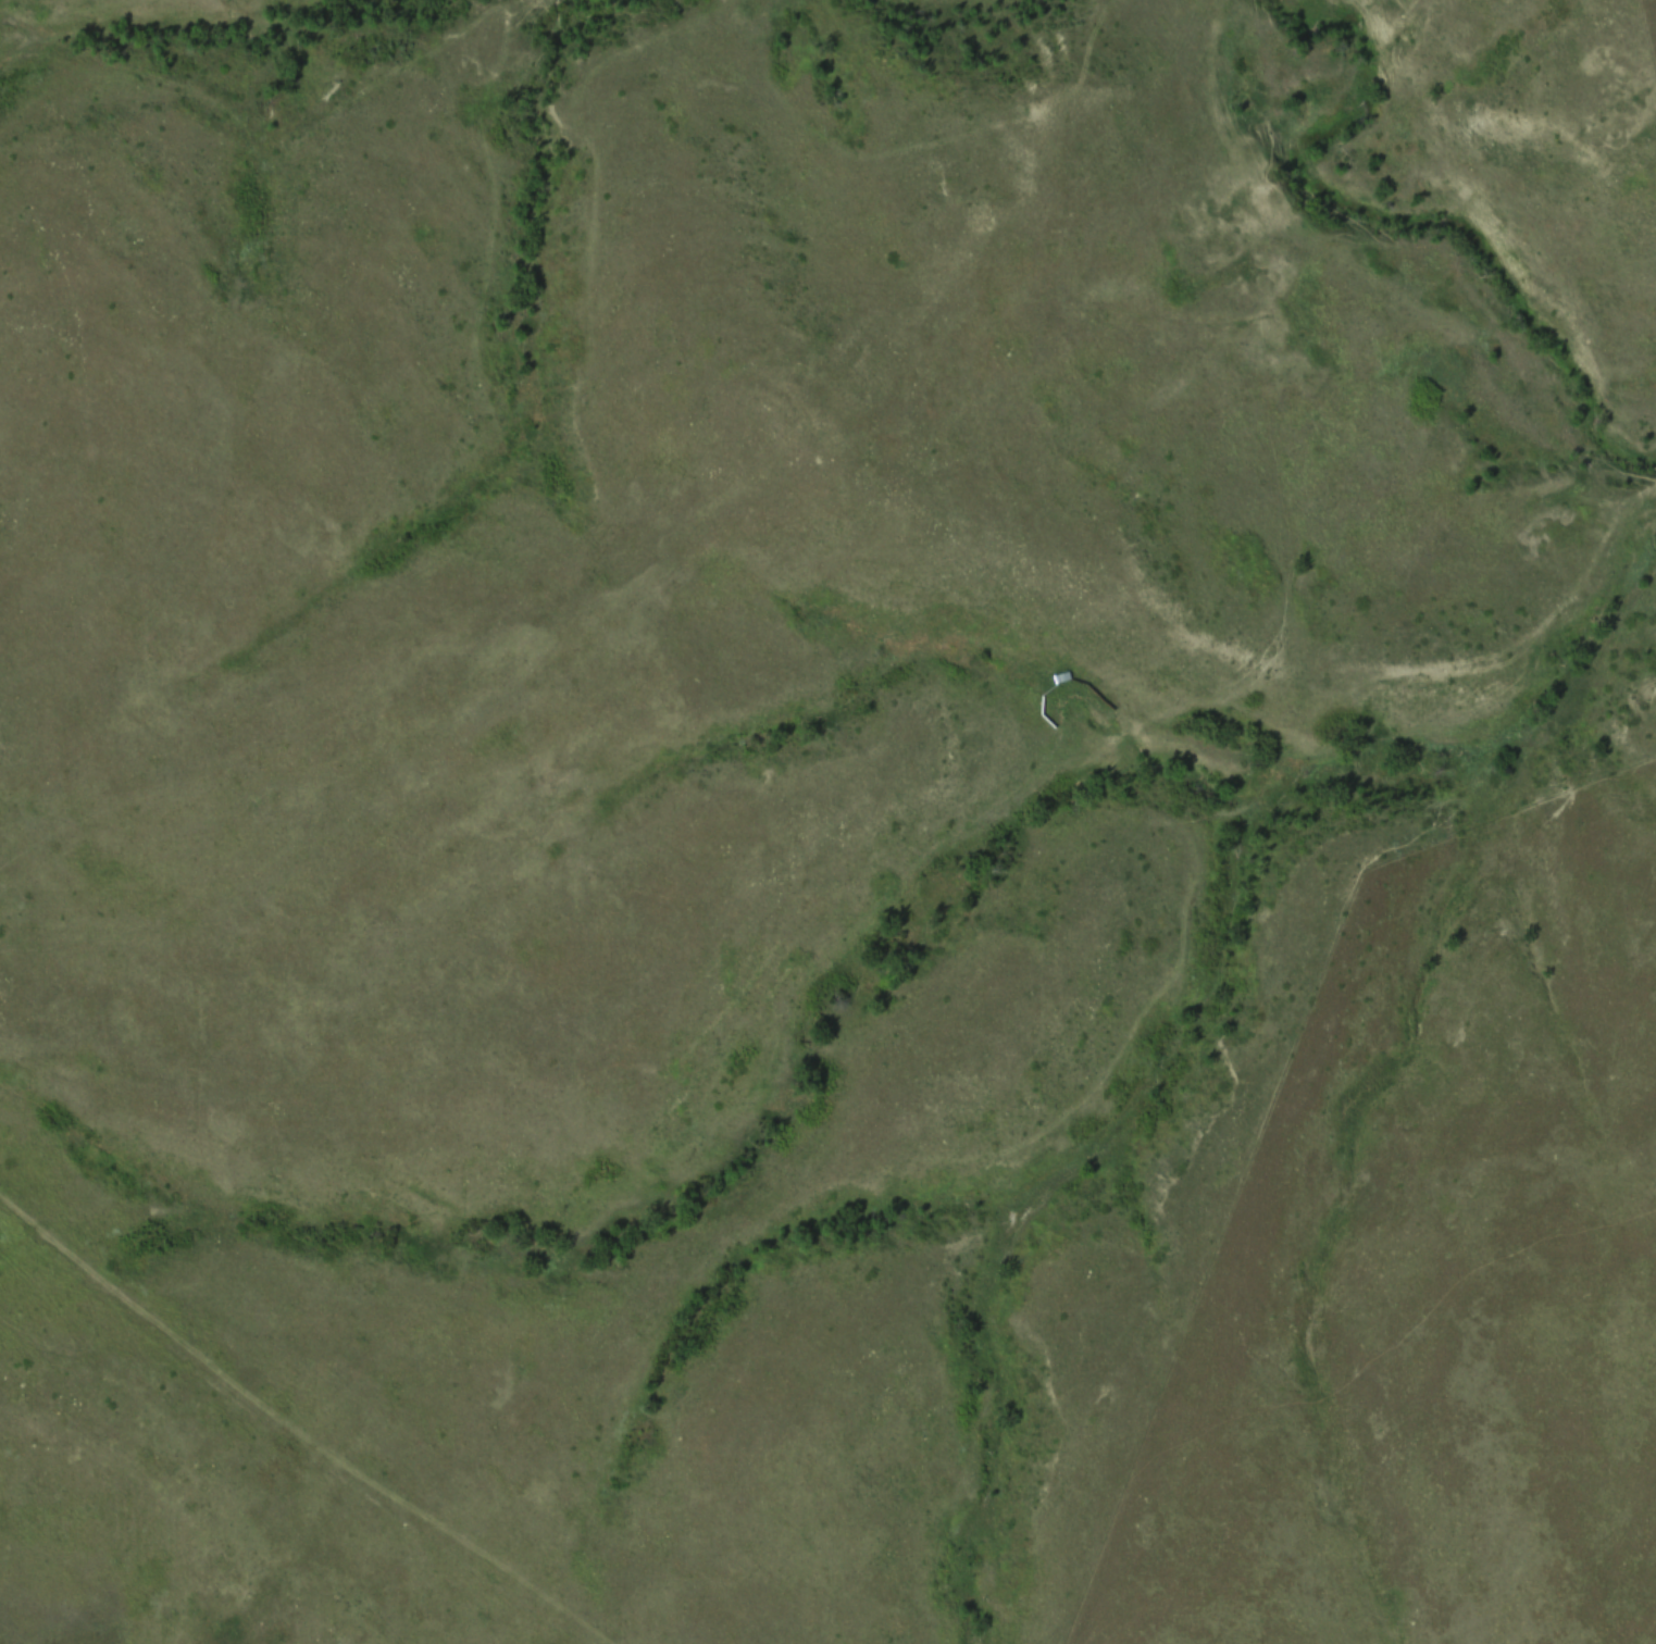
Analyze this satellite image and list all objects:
road: (185, 1338)

